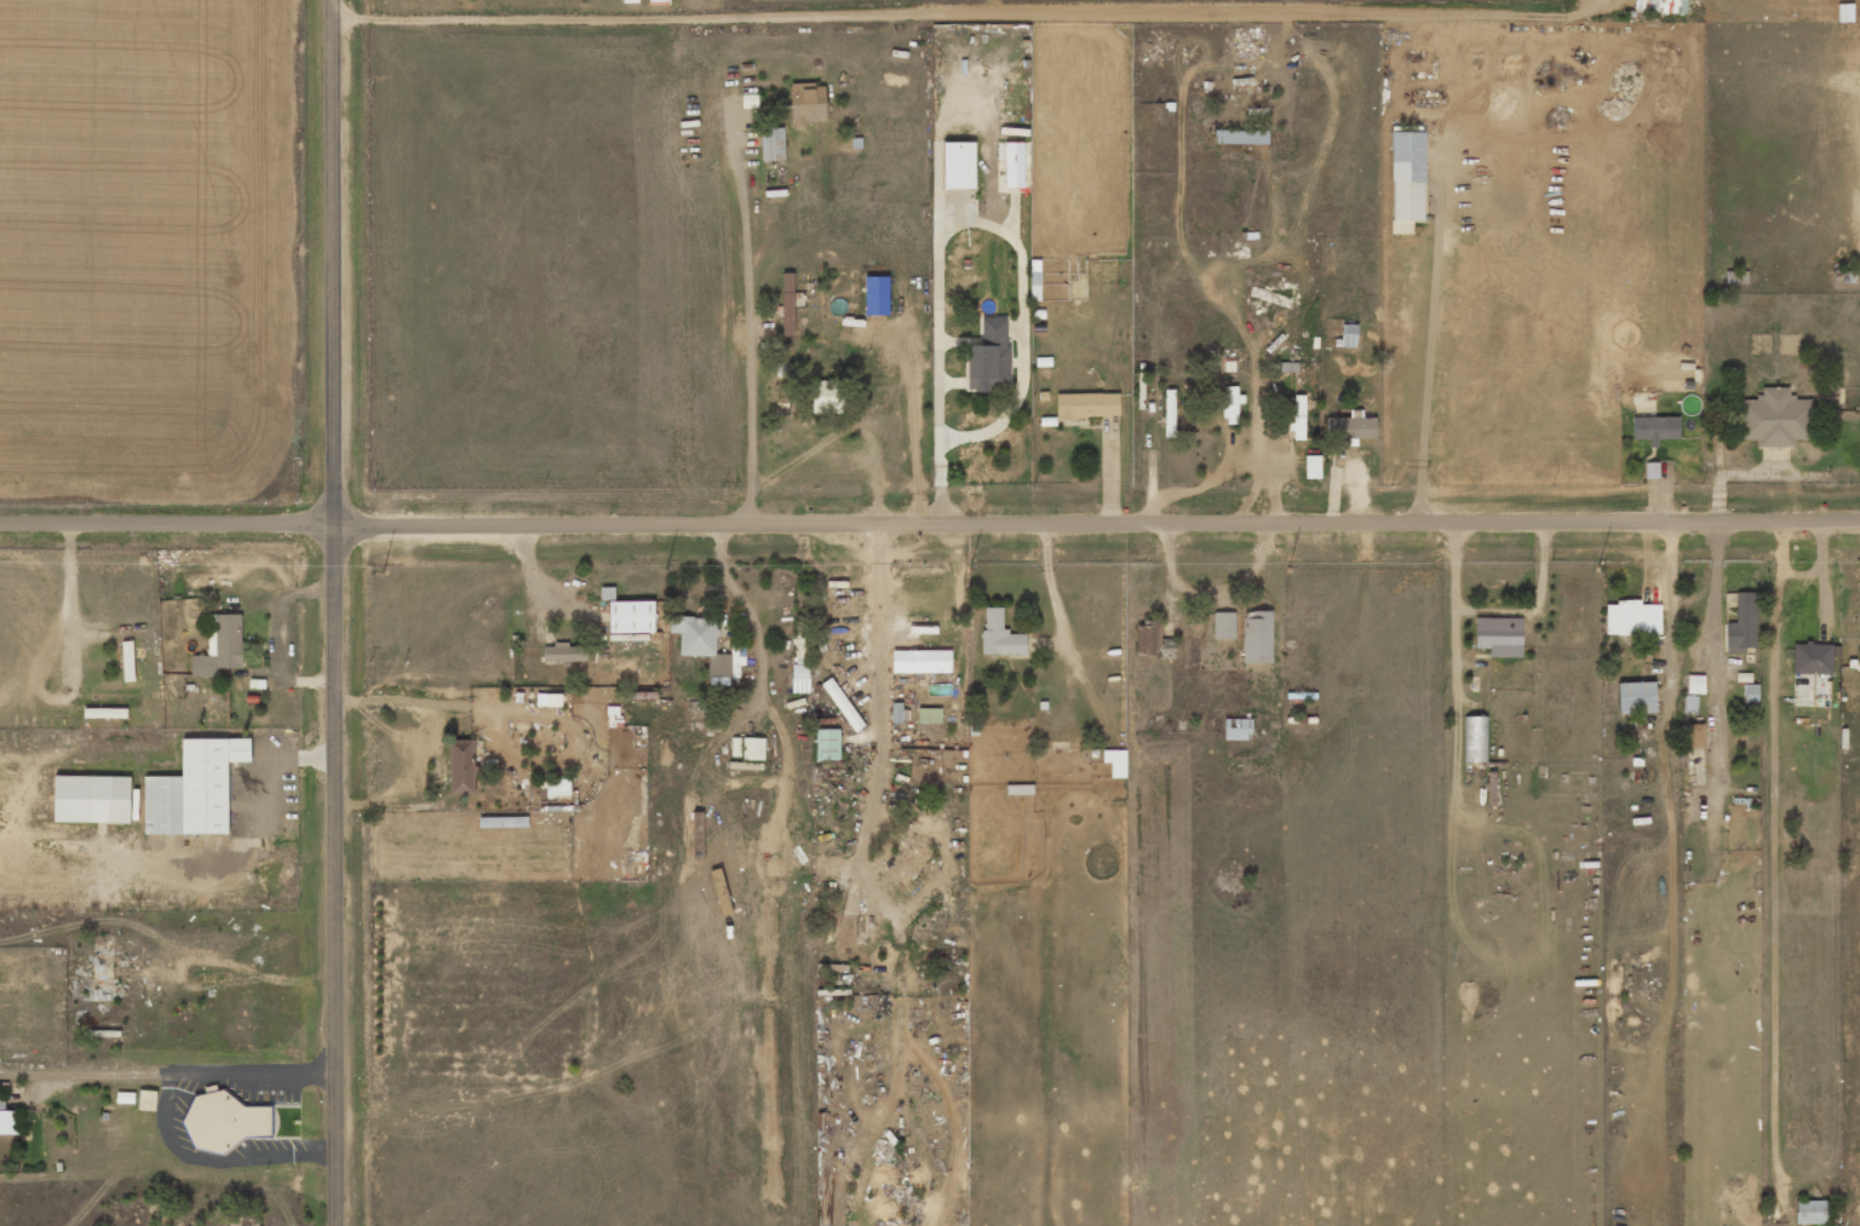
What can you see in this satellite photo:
building: (658, 1)
building: (1649, 6)
building: (808, 103)
building: (1241, 137)
building: (773, 144)
building: (958, 165)
building: (1407, 175)
building: (787, 304)
building: (1348, 335)
building: (989, 356)
building: (826, 396)
building: (1169, 403)
building: (1232, 403)
building: (1086, 404)
building: (1298, 418)
building: (1774, 418)
building: (1350, 426)
building: (1654, 428)
building: (987, 431)
building: (1313, 466)
building: (1652, 470)
road: (929, 520)
power tower: (968, 565)
power tower: (672, 566)
power tower: (1286, 566)
power tower: (1603, 566)
power tower: (373, 569)
road: (339, 612)
building: (631, 616)
building: (1632, 617)
building: (1223, 624)
building: (1741, 624)
building: (1000, 634)
building: (1499, 635)
building: (628, 637)
building: (1257, 637)
building: (1152, 640)
building: (702, 644)
building: (220, 645)
building: (799, 647)
building: (564, 652)
building: (1812, 658)
building: (128, 661)
building: (920, 661)
building: (800, 678)
building: (1695, 684)
building: (1751, 693)
building: (1636, 697)
building: (549, 700)
building: (842, 704)
building: (104, 713)
building: (929, 715)
building: (1238, 729)
building: (1695, 736)
building: (1475, 738)
building: (827, 744)
building: (753, 748)
building: (1115, 762)
building: (461, 767)
building: (557, 787)
building: (194, 789)
building: (92, 799)
building: (911, 863)
building: (846, 937)
building: (103, 977)
building: (147, 1100)
building: (7, 1121)
building: (228, 1121)
building: (1809, 1211)

